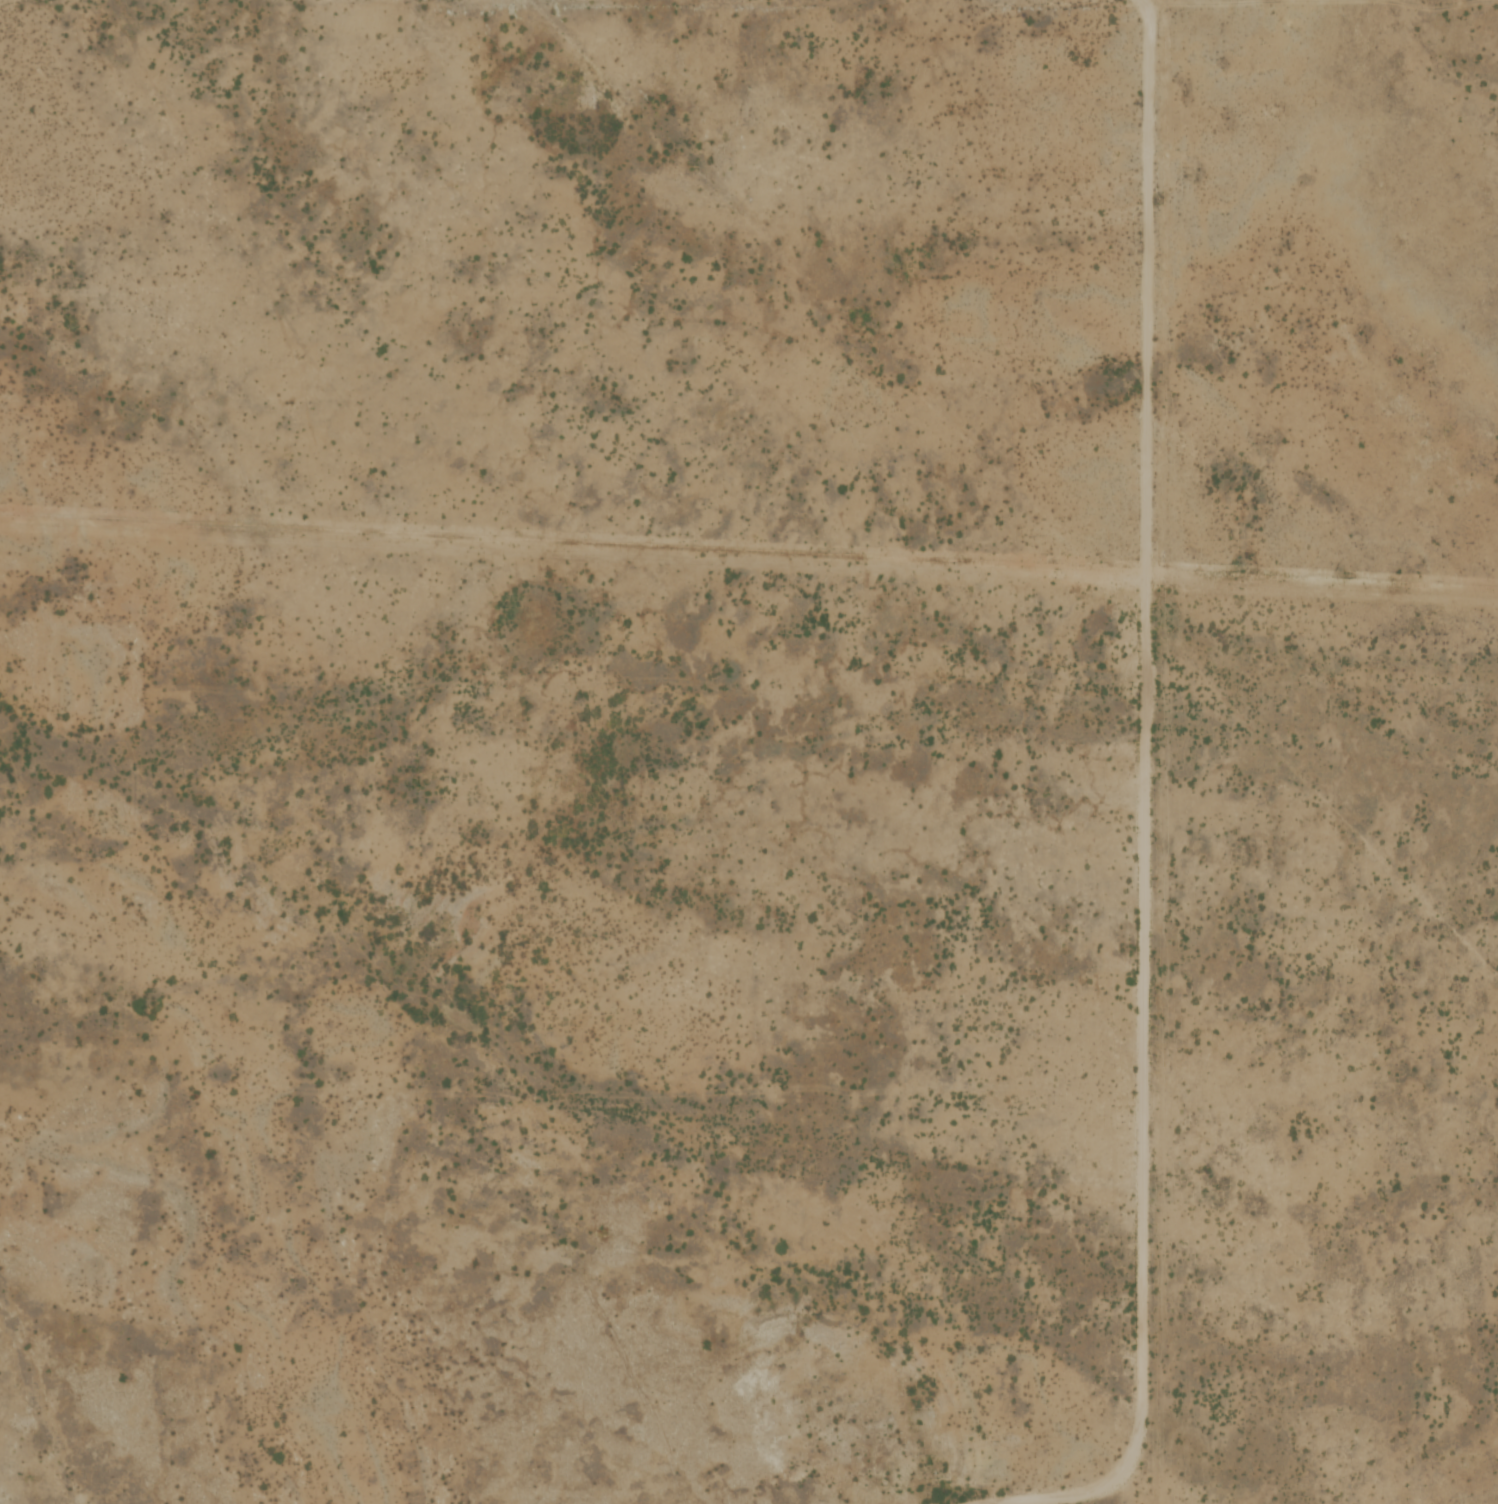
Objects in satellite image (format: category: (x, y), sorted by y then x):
road: (1142, 808)

